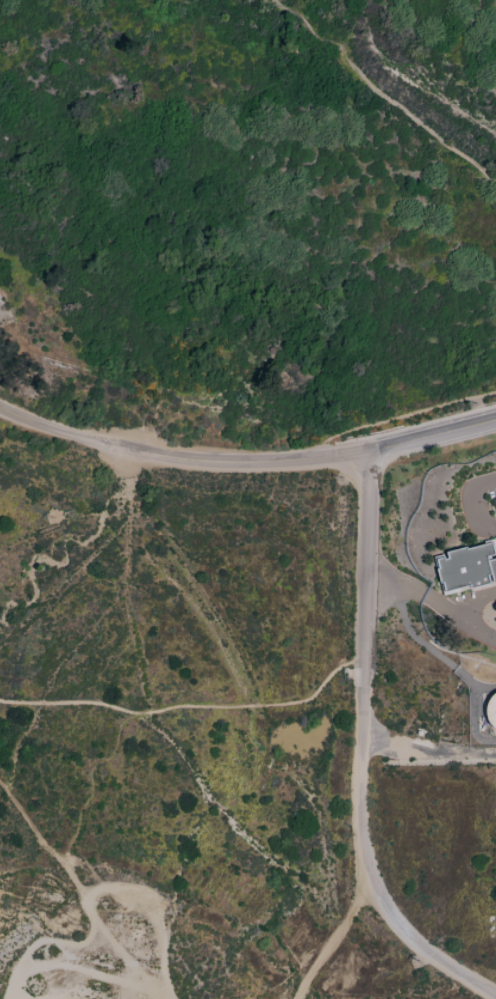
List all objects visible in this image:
road: (384, 91)
road: (390, 419)
road: (40, 424)
road: (432, 438)
road: (125, 447)
road: (269, 463)
road: (471, 503)
building: (468, 567)
road: (469, 600)
road: (433, 602)
wastewater plant: (440, 607)
road: (188, 707)
building: (492, 710)
road: (428, 749)
road: (361, 754)
road: (332, 939)

